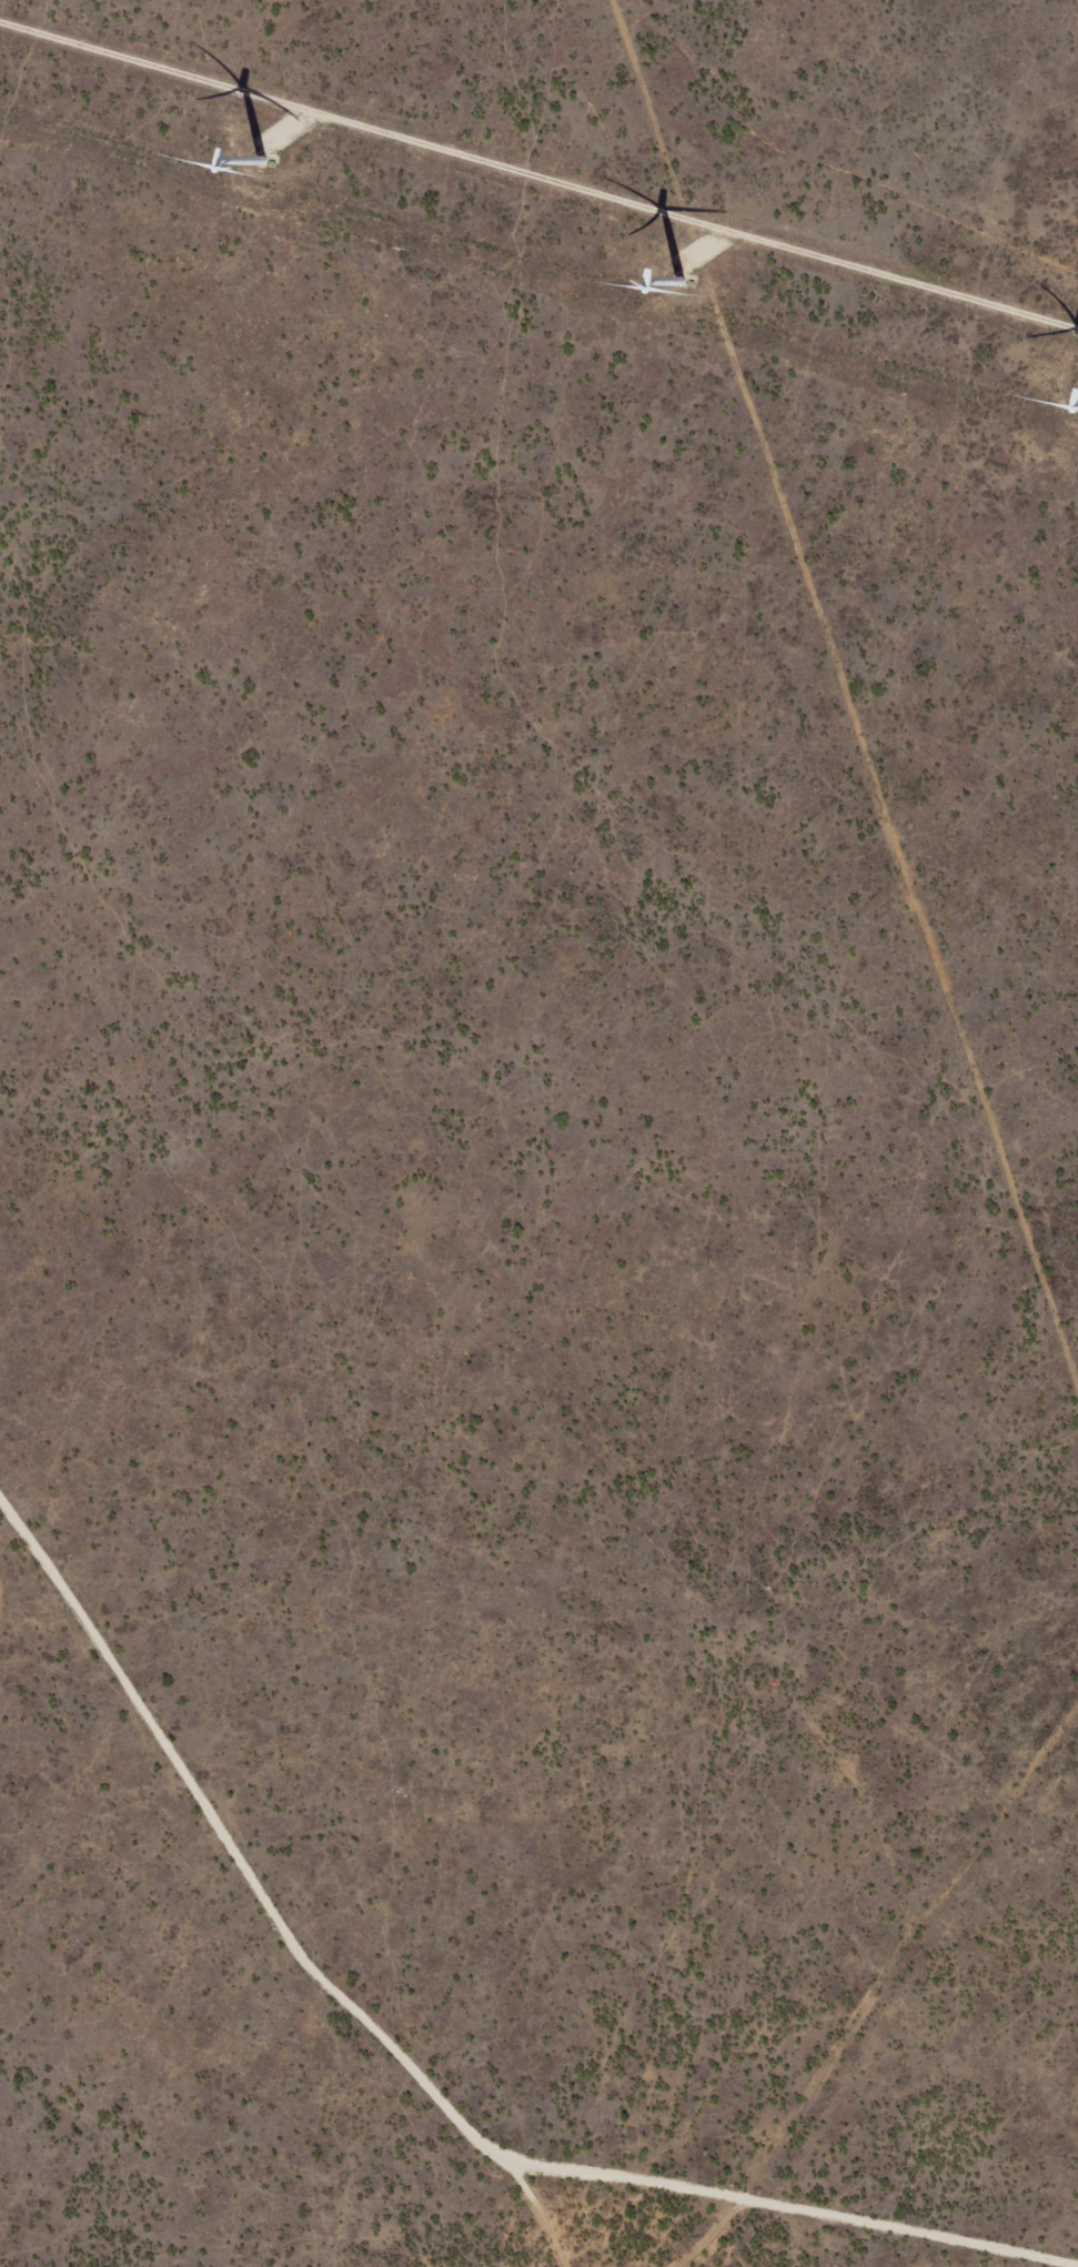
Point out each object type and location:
wind turbine: (262, 155)
wind turbine: (673, 290)
road: (273, 1874)
road: (867, 1962)

